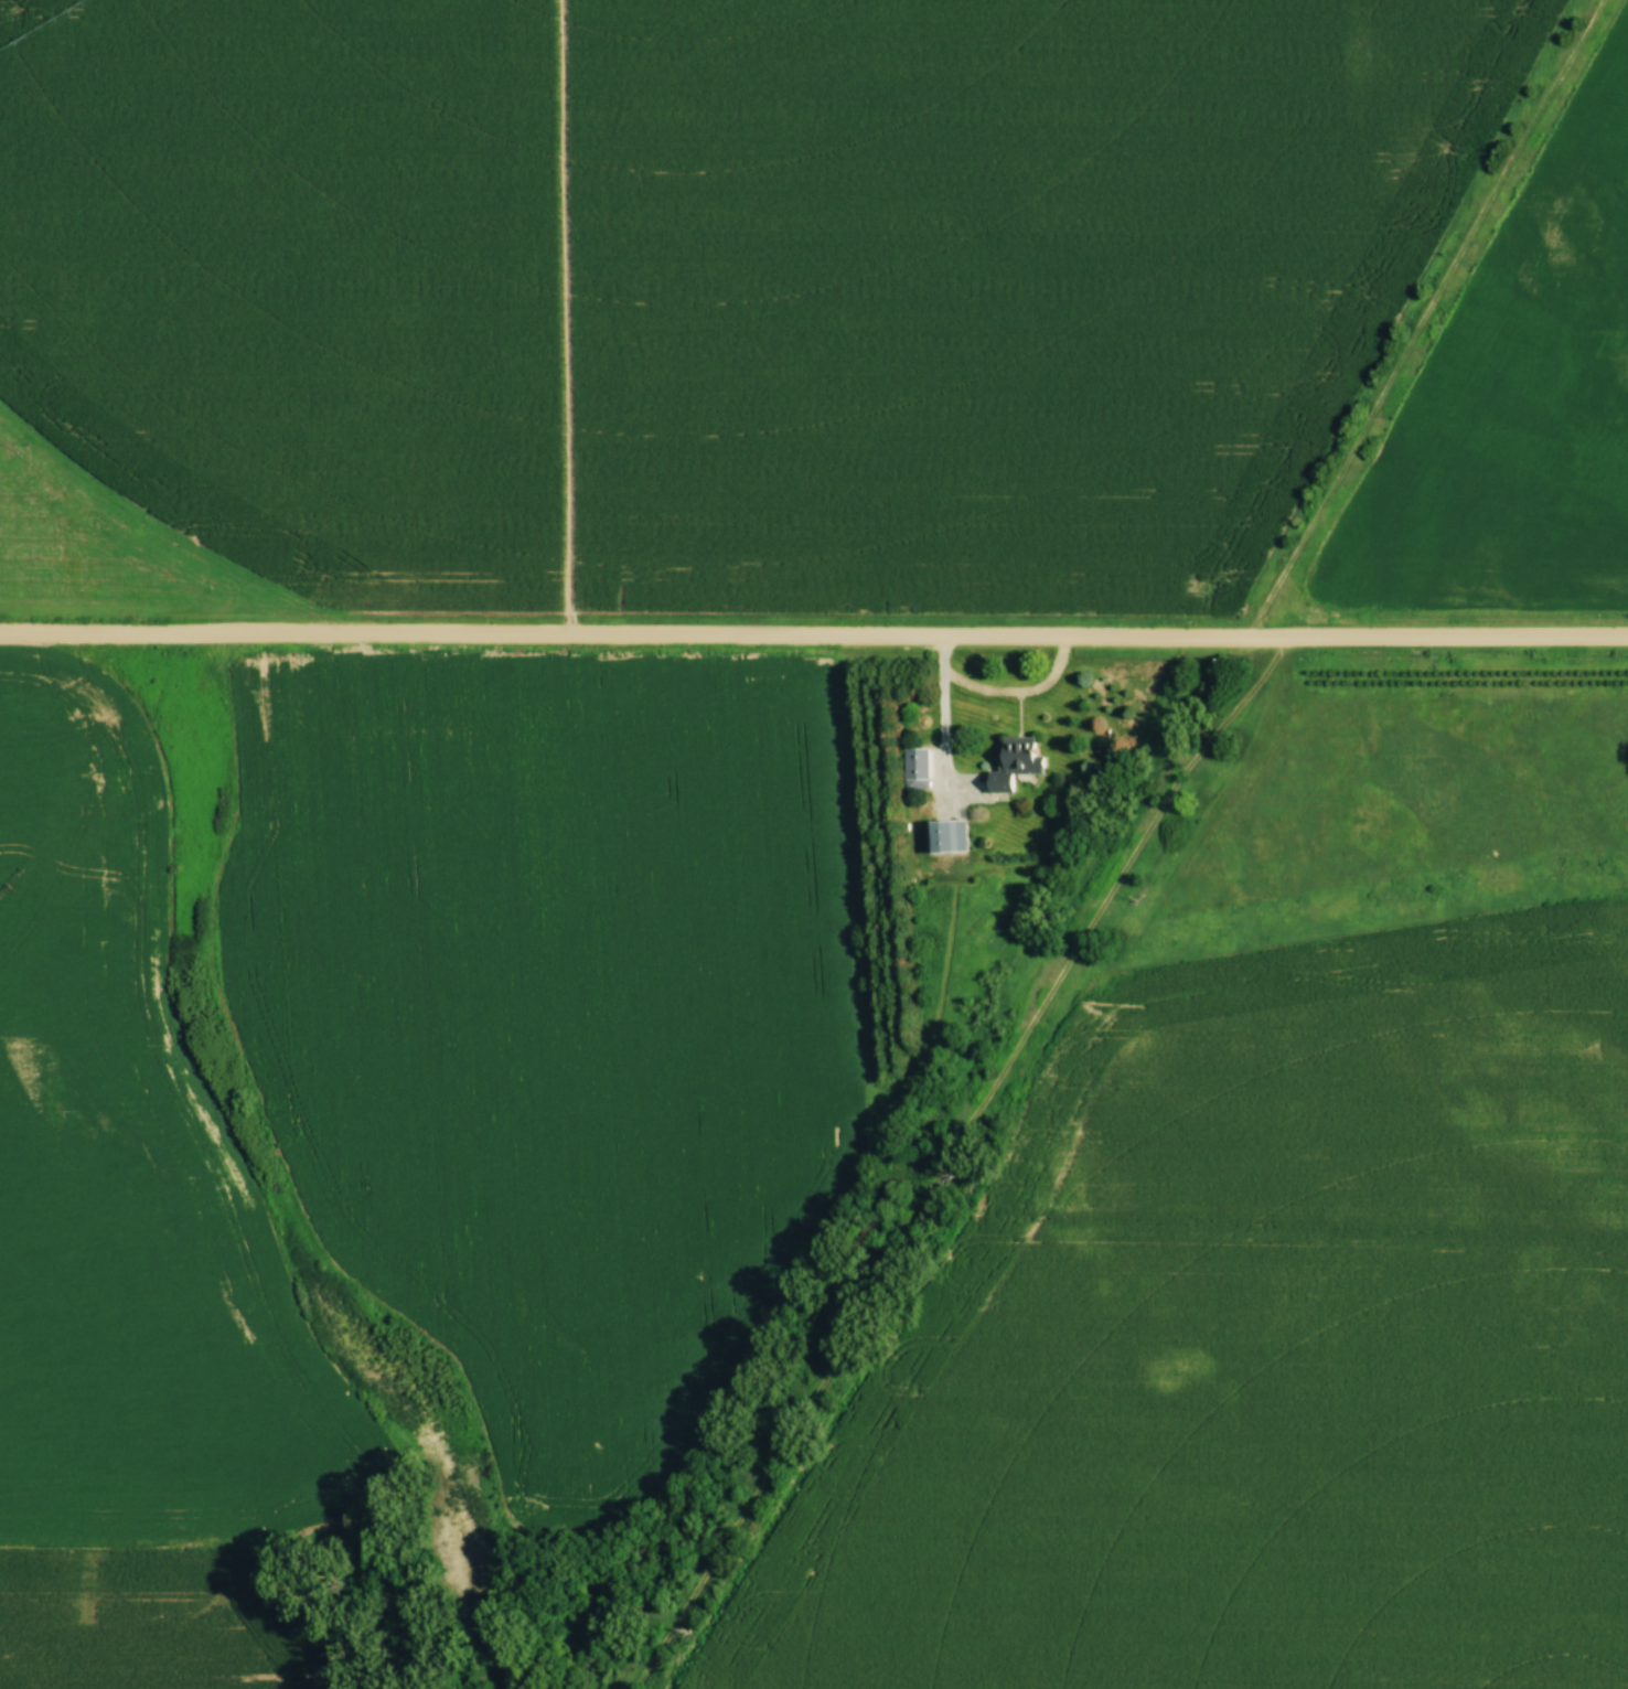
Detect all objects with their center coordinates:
road: (814, 635)
building: (1011, 760)
building: (942, 834)

